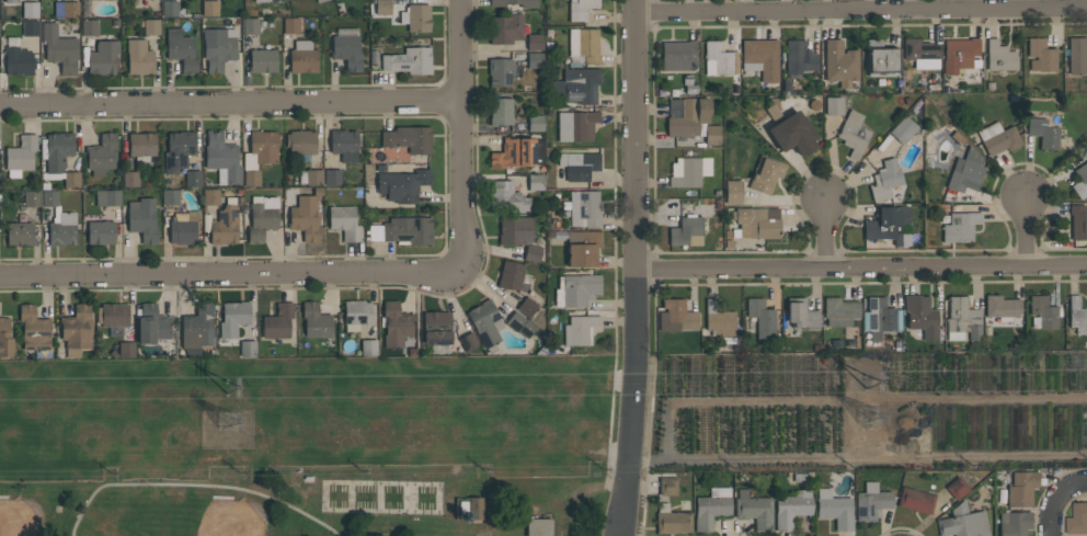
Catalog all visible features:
building: (266, 0)
building: (10, 1)
building: (319, 1)
building: (497, 4)
building: (382, 7)
building: (169, 8)
building: (209, 8)
road: (861, 8)
building: (30, 9)
building: (66, 9)
building: (580, 9)
building: (415, 18)
building: (290, 25)
building: (151, 26)
building: (250, 26)
building: (31, 27)
building: (89, 27)
building: (505, 27)
building: (535, 42)
building: (584, 44)
building: (218, 47)
building: (346, 47)
building: (59, 48)
building: (181, 49)
building: (920, 54)
building: (678, 55)
building: (959, 55)
building: (1077, 55)
building: (302, 56)
building: (999, 56)
building: (1040, 56)
building: (102, 57)
building: (138, 57)
building: (18, 58)
building: (760, 58)
building: (881, 58)
building: (719, 59)
building: (799, 59)
building: (262, 60)
building: (408, 60)
building: (839, 62)
building: (535, 64)
building: (500, 71)
building: (786, 84)
road: (261, 85)
building: (576, 85)
road: (231, 101)
building: (834, 105)
building: (500, 112)
building: (687, 116)
building: (535, 123)
building: (576, 125)
building: (903, 129)
building: (1043, 133)
road: (461, 134)
building: (793, 134)
building: (853, 134)
building: (712, 135)
building: (408, 138)
building: (998, 138)
building: (1086, 141)
building: (301, 142)
building: (344, 145)
building: (141, 147)
building: (260, 149)
building: (178, 150)
building: (518, 152)
building: (57, 153)
building: (101, 155)
building: (20, 156)
building: (221, 158)
building: (579, 164)
building: (688, 171)
building: (966, 171)
building: (766, 175)
building: (310, 176)
building: (251, 178)
building: (332, 178)
building: (71, 179)
building: (130, 179)
building: (193, 179)
building: (884, 180)
building: (1080, 180)
building: (535, 182)
building: (402, 184)
building: (733, 192)
building: (210, 196)
building: (506, 196)
building: (107, 197)
building: (170, 197)
building: (31, 198)
building: (49, 198)
building: (582, 207)
building: (262, 217)
building: (304, 217)
building: (142, 218)
building: (344, 221)
building: (226, 223)
building: (756, 223)
building: (1078, 223)
building: (889, 225)
building: (183, 227)
building: (960, 227)
building: (61, 228)
road: (1027, 228)
building: (514, 229)
building: (401, 230)
building: (100, 231)
building: (686, 231)
road: (823, 231)
building: (20, 233)
road: (614, 242)
building: (582, 248)
building: (531, 252)
road: (863, 264)
road: (640, 267)
road: (229, 271)
building: (511, 275)
road: (382, 287)
building: (576, 289)
building: (526, 307)
building: (1002, 308)
building: (839, 310)
building: (1043, 312)
building: (356, 313)
building: (799, 315)
building: (1077, 315)
building: (676, 316)
building: (920, 316)
building: (113, 317)
building: (762, 317)
building: (880, 317)
building: (232, 318)
building: (962, 319)
building: (316, 320)
building: (719, 320)
building: (277, 321)
building: (485, 323)
building: (152, 324)
building: (394, 324)
building: (519, 324)
building: (33, 328)
building: (579, 329)
building: (76, 330)
building: (436, 331)
building: (196, 332)
building: (4, 338)
building: (468, 341)
building: (247, 347)
building: (368, 347)
building: (126, 350)
power tower: (869, 380)
power tower: (231, 386)
crop: (869, 412)
power tower: (870, 412)
power tower: (227, 420)
park: (310, 446)
road: (197, 484)
building: (667, 486)
building: (957, 488)
building: (1021, 488)
road: (1056, 498)
building: (916, 500)
building: (871, 502)
building: (711, 506)
building: (469, 509)
building: (791, 509)
building: (834, 509)
building: (754, 510)
park: (21, 517)
park: (231, 517)
building: (673, 517)
building: (1077, 520)
building: (962, 522)
building: (1014, 523)
building: (539, 527)

